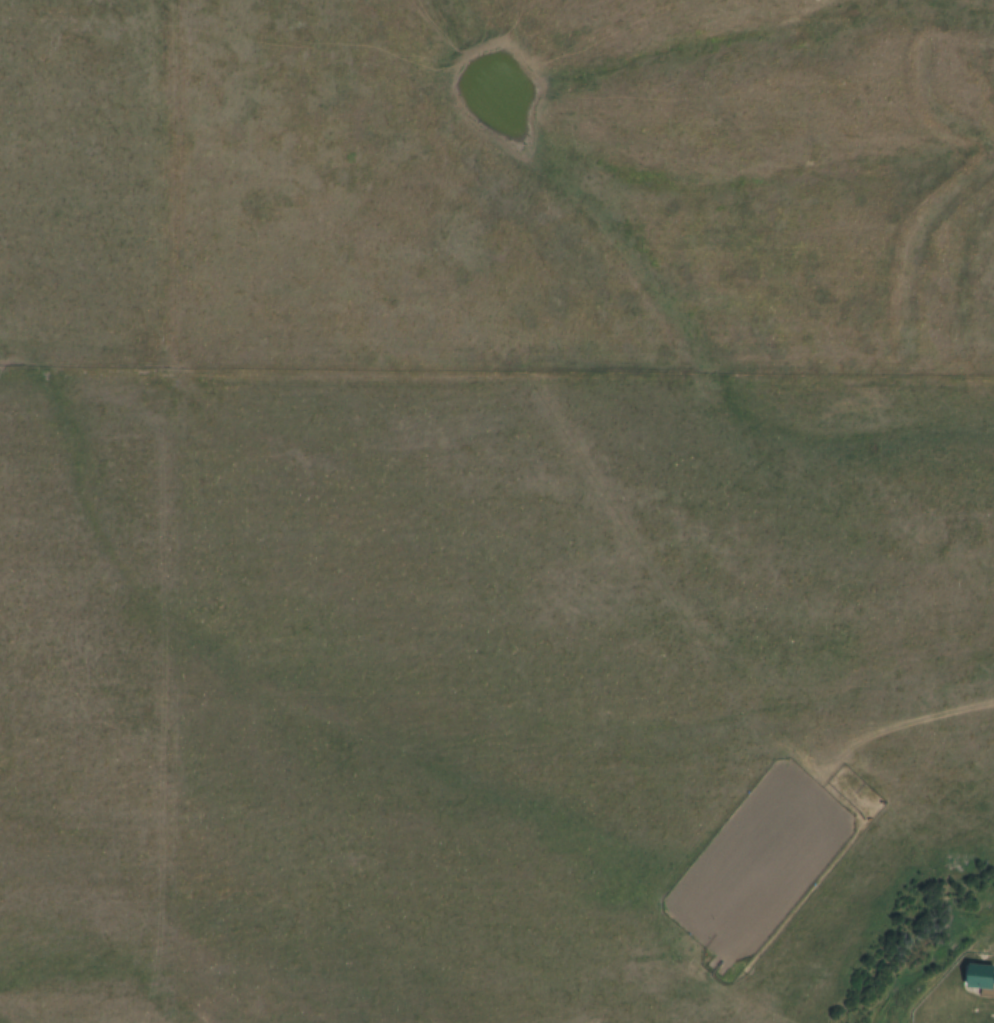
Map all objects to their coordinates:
building: (976, 976)

